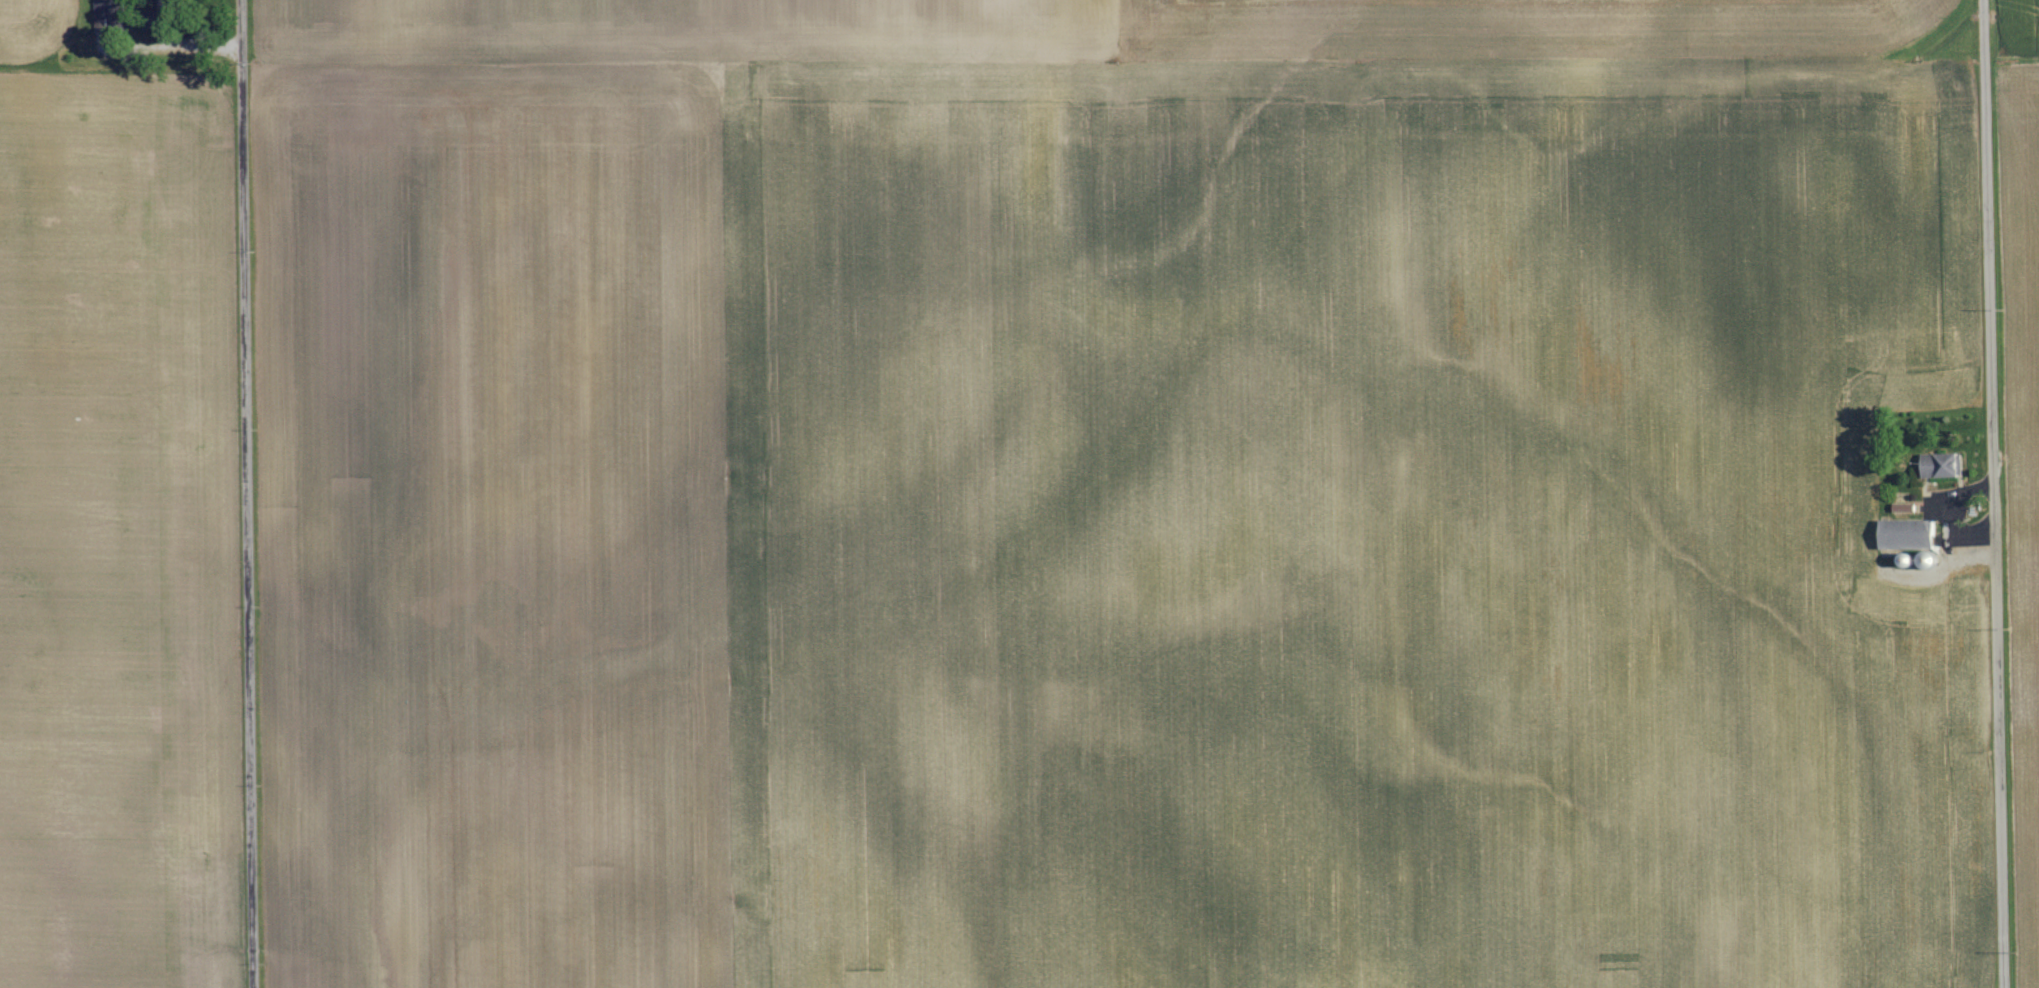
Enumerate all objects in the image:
road: (178, 47)
road: (243, 494)
road: (1984, 494)

